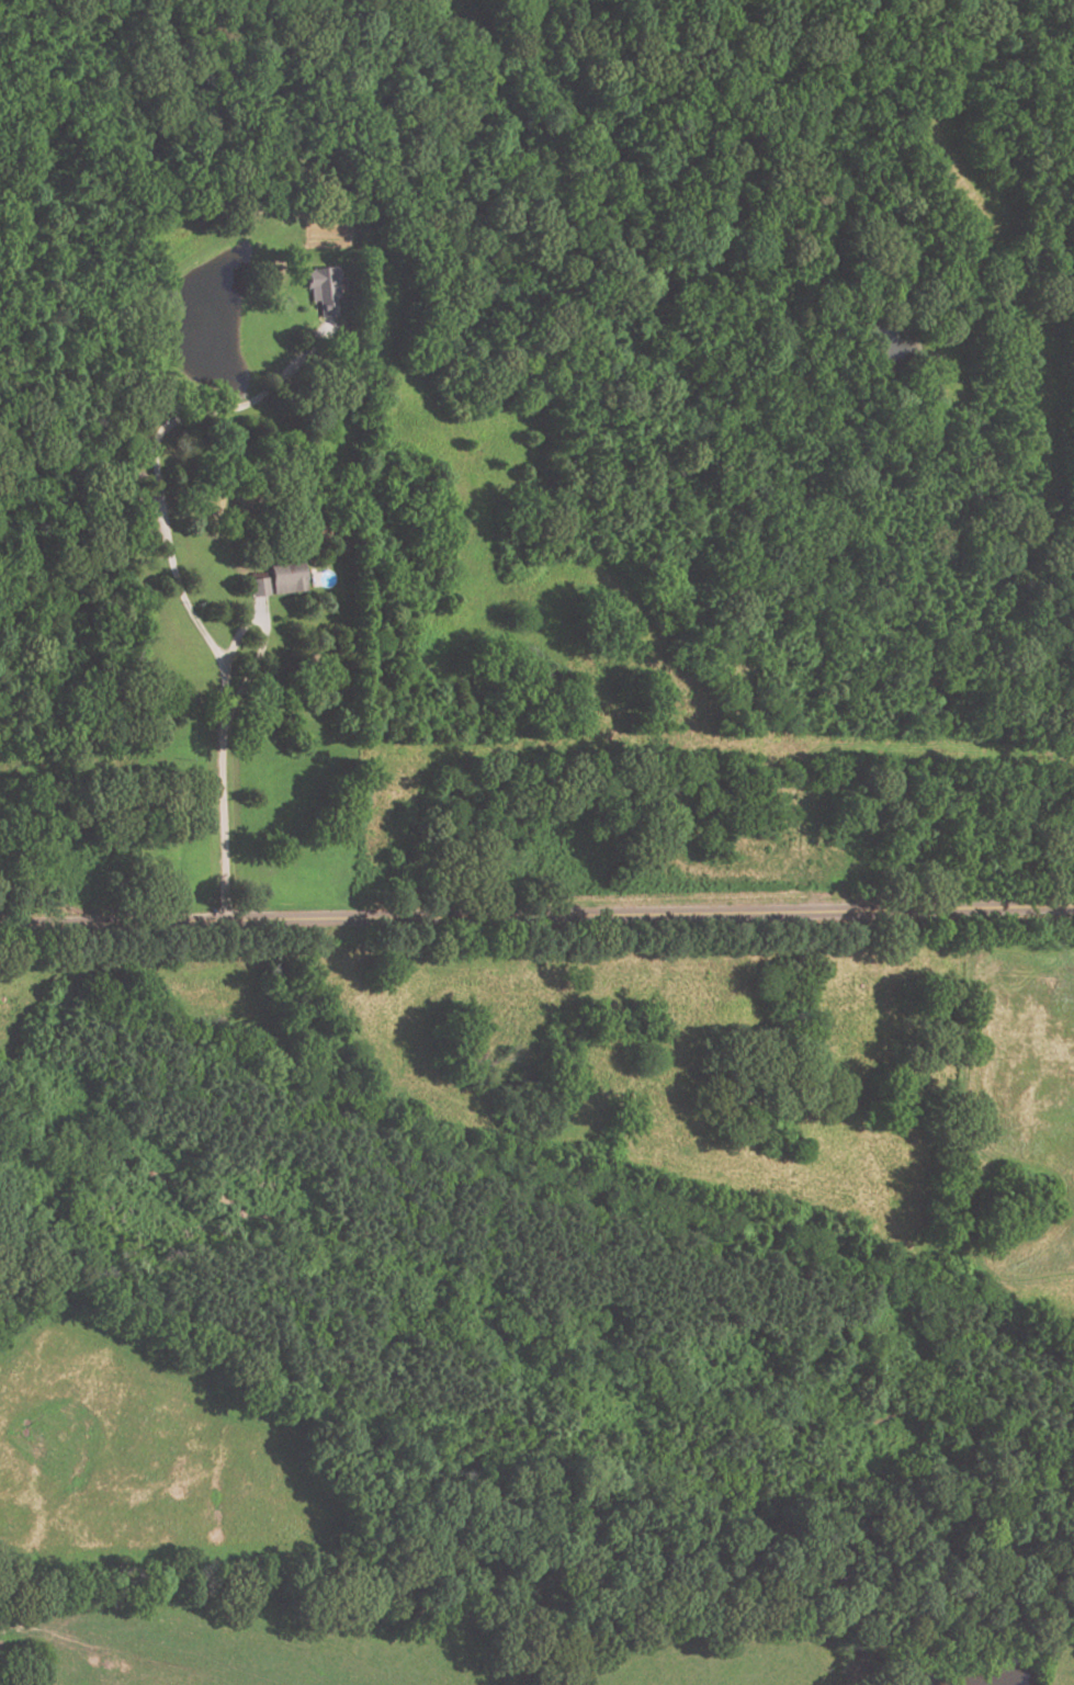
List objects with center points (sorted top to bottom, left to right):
building: (323, 290)
road: (165, 540)
building: (286, 576)
building: (257, 587)
road: (258, 643)
road: (536, 915)

